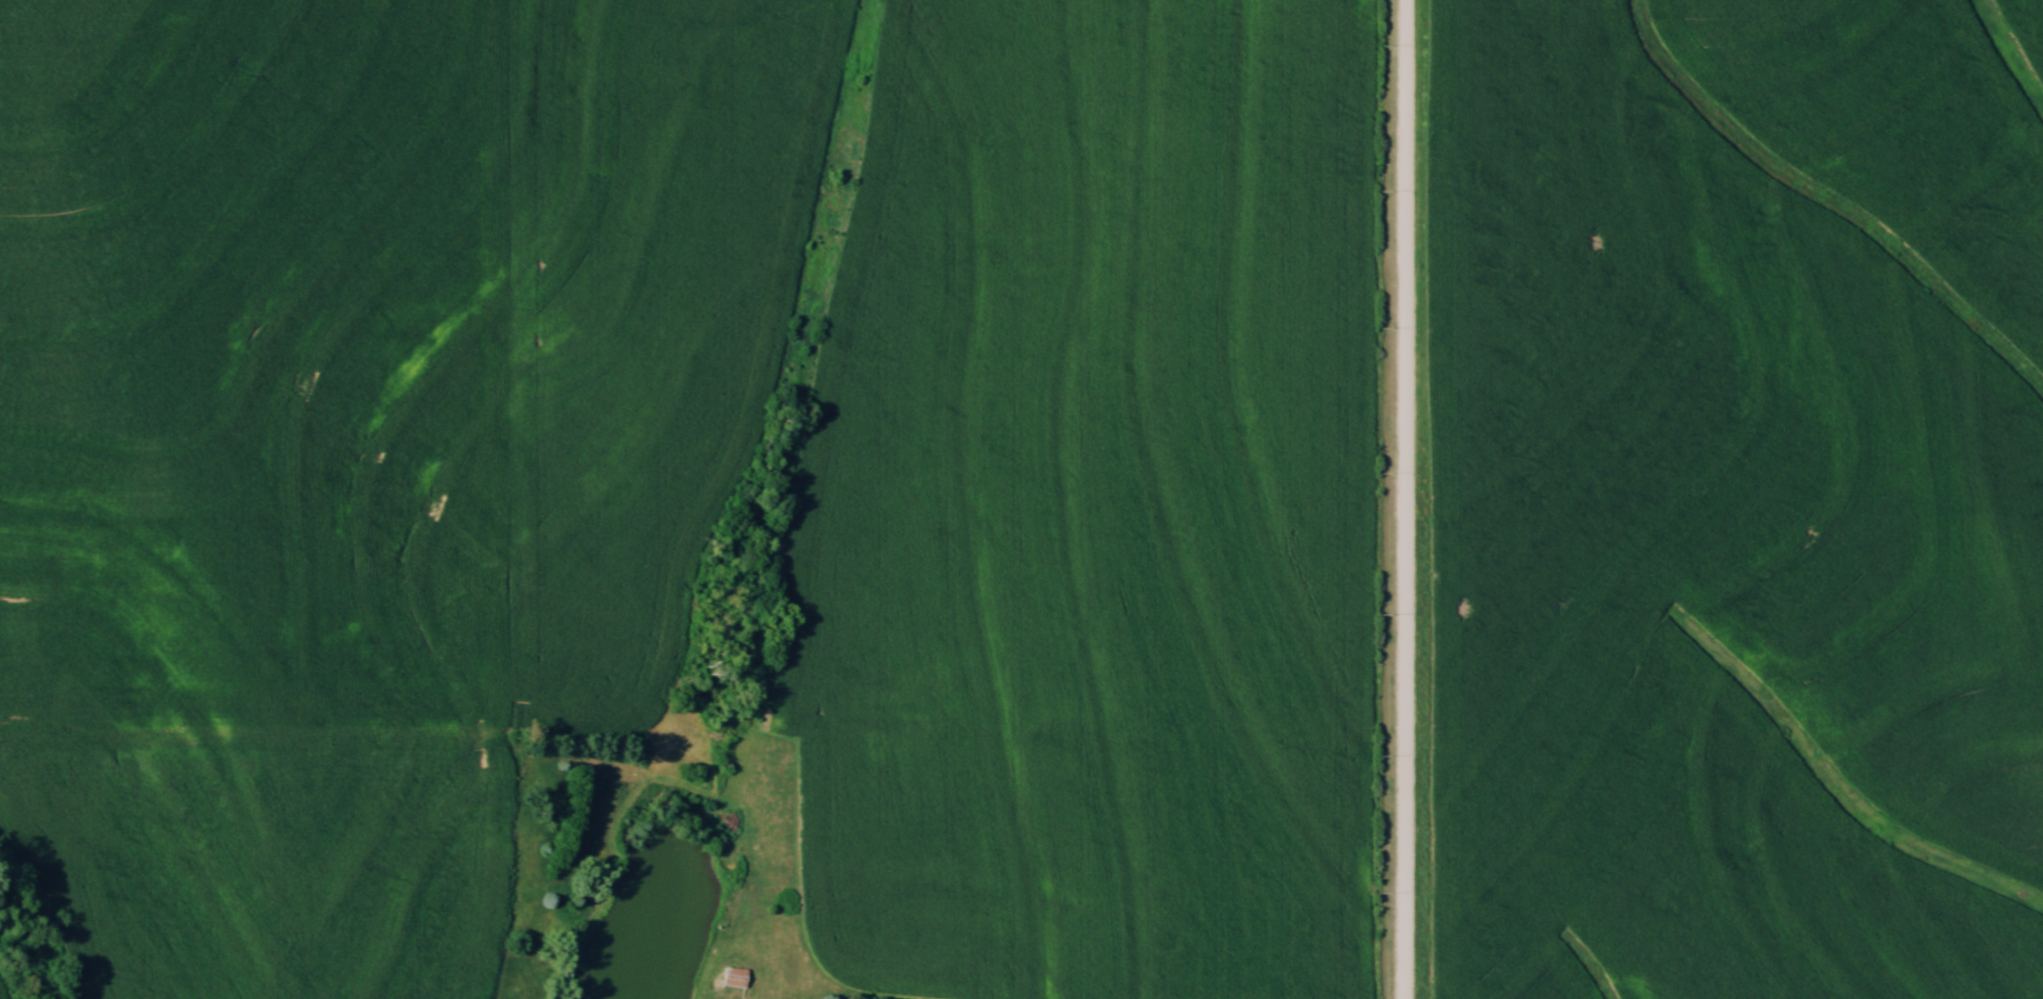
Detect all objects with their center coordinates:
road: (1406, 499)
building: (737, 977)

